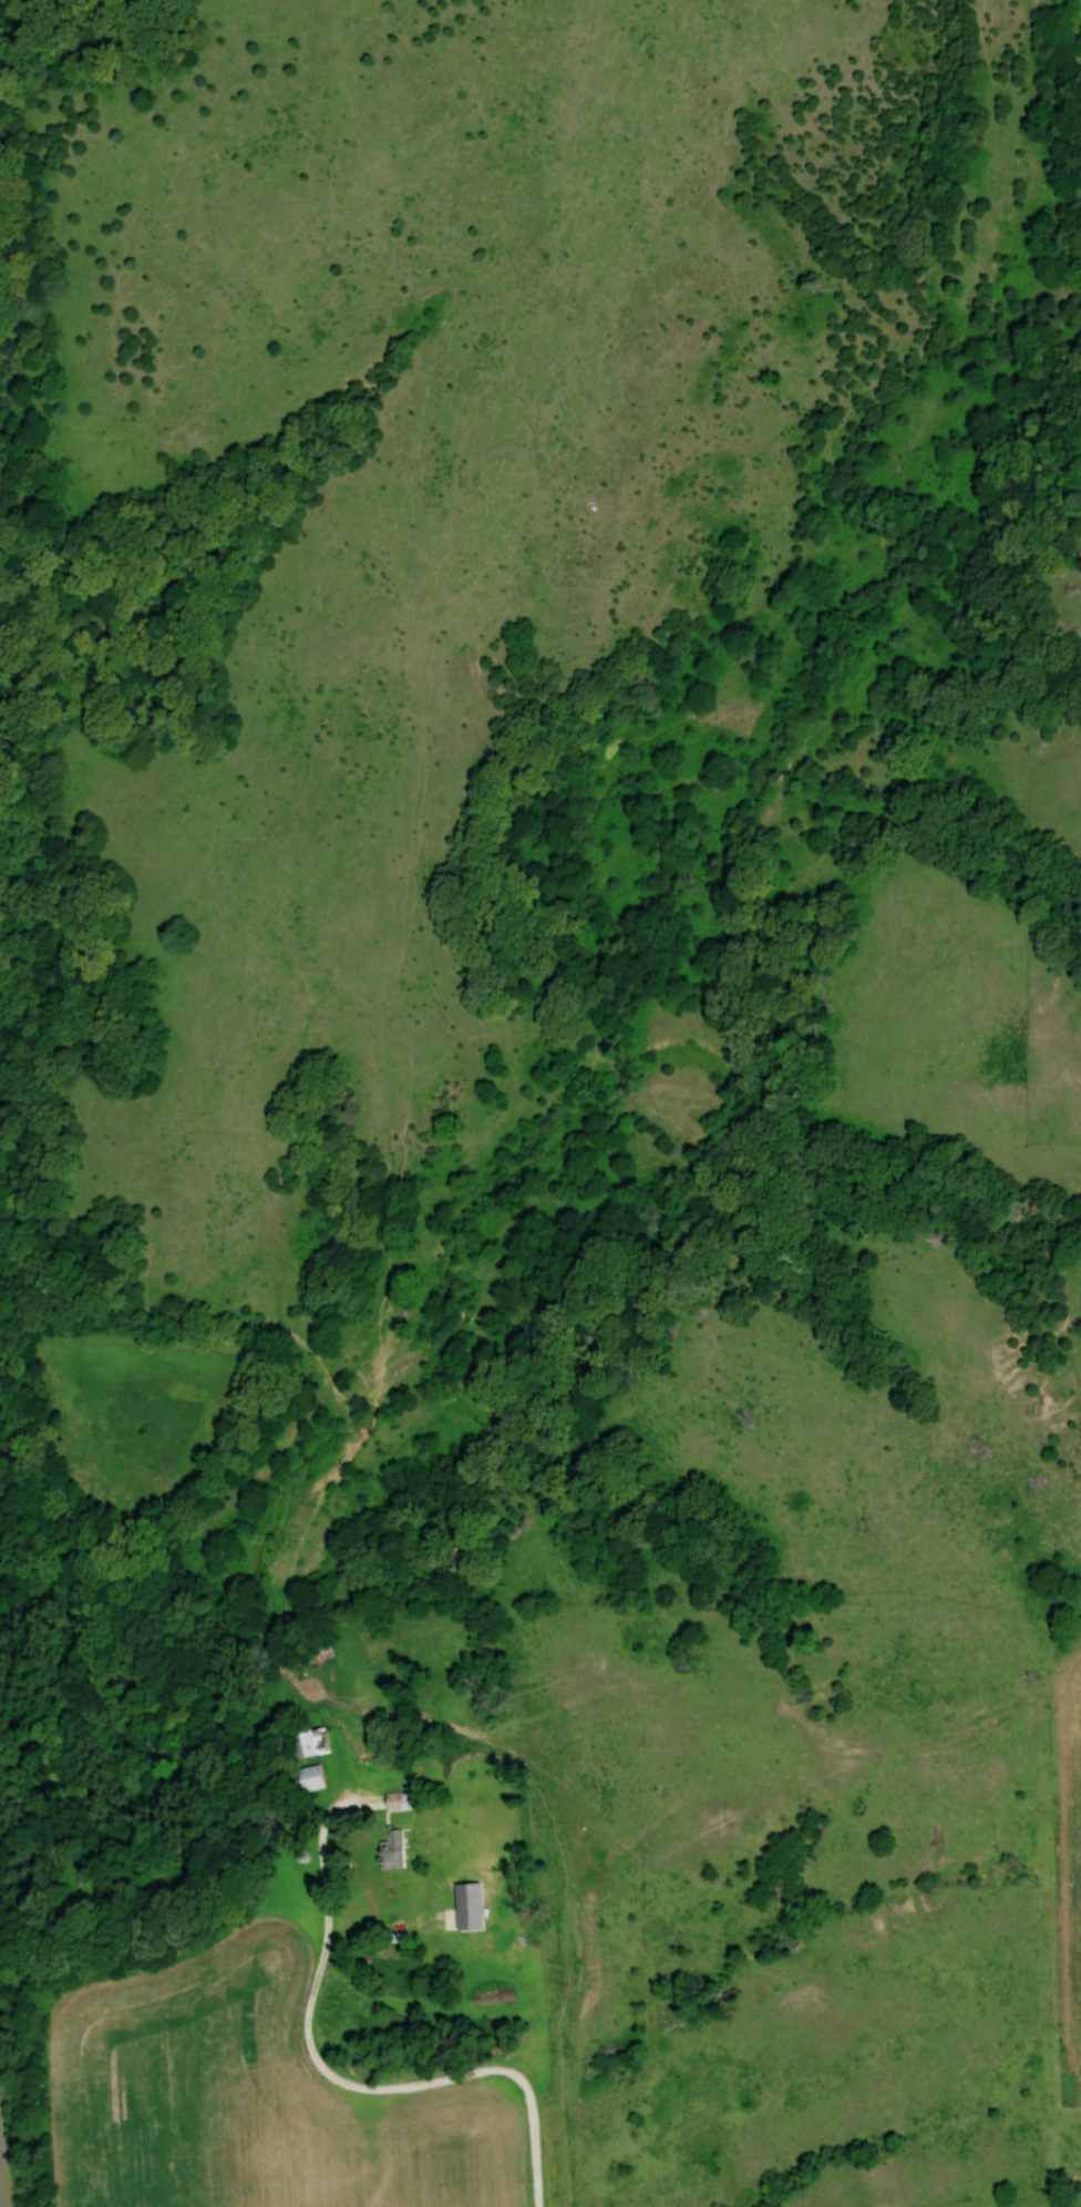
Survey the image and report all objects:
building: (313, 1651)
building: (308, 1744)
building: (311, 1777)
building: (398, 1800)
building: (394, 1847)
building: (469, 1907)
road: (385, 2078)

